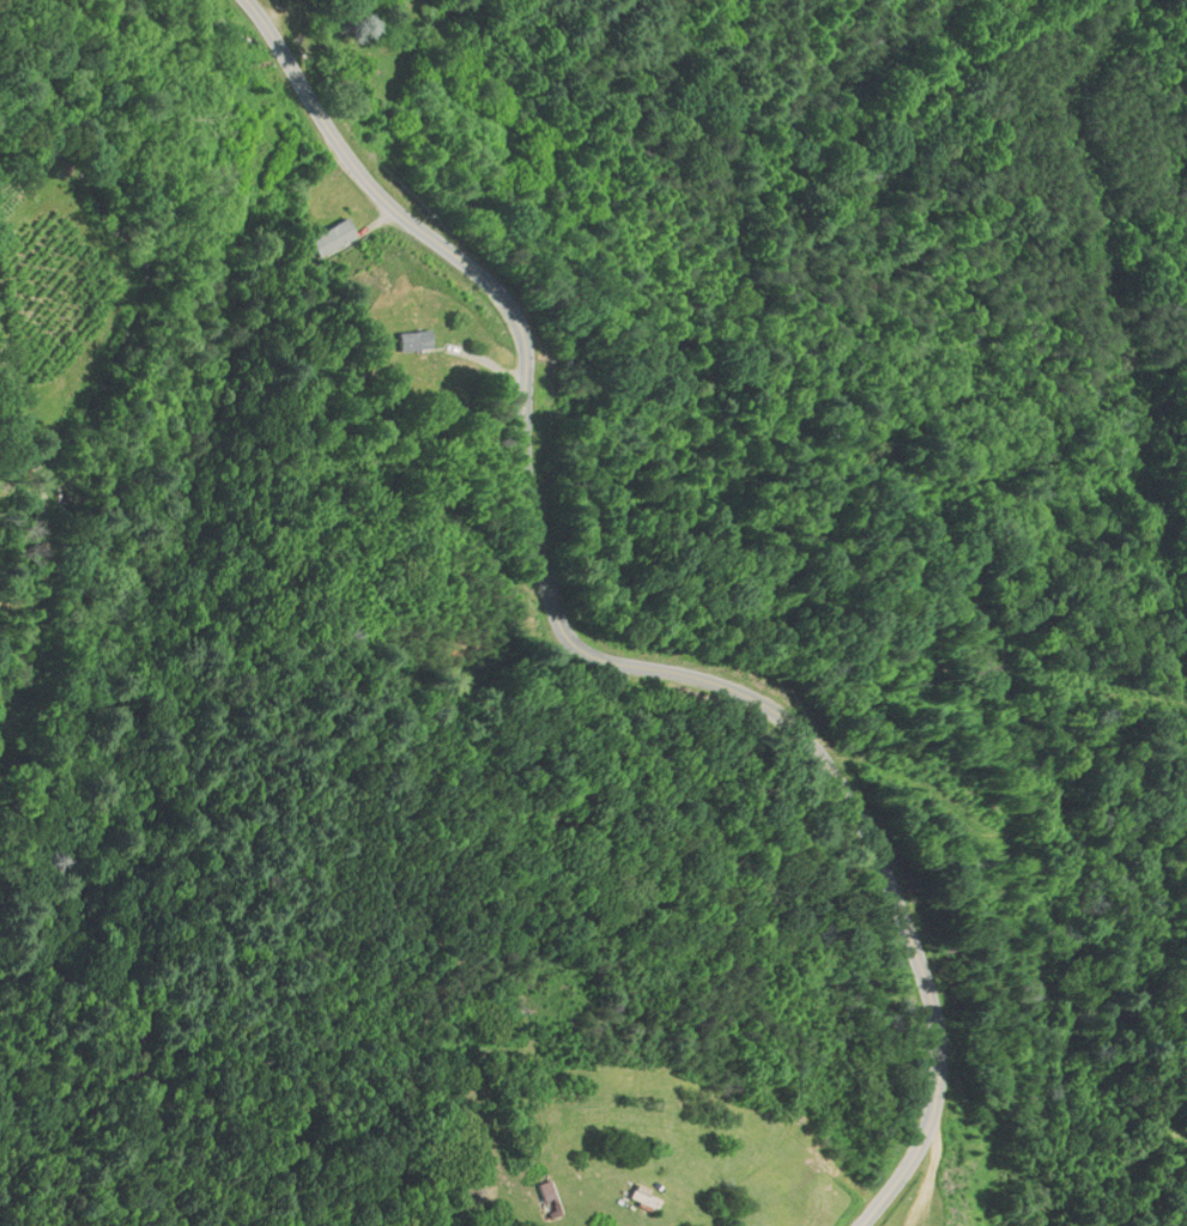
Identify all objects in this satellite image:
building: (331, 237)
building: (411, 340)
road: (355, 617)
road: (591, 653)
road: (925, 1179)
building: (547, 1200)
building: (641, 1200)

